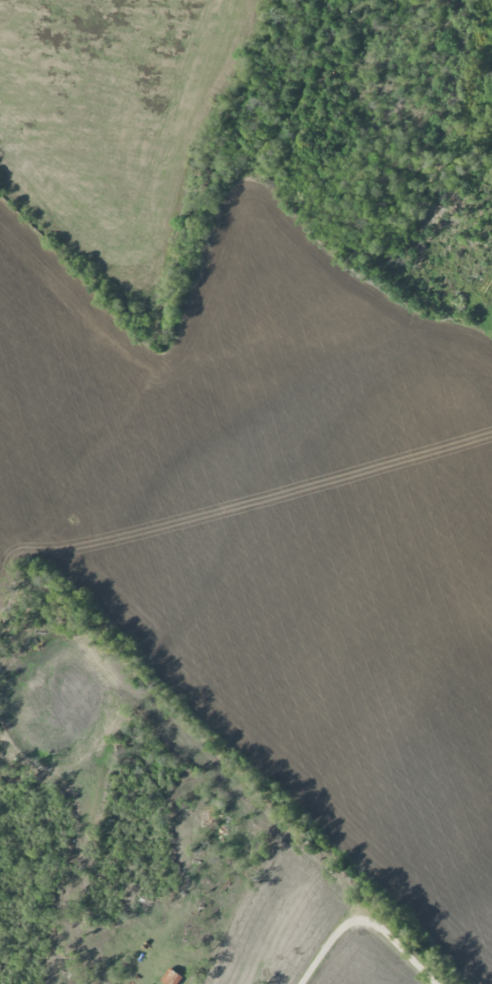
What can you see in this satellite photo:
road: (364, 920)
building: (172, 977)

